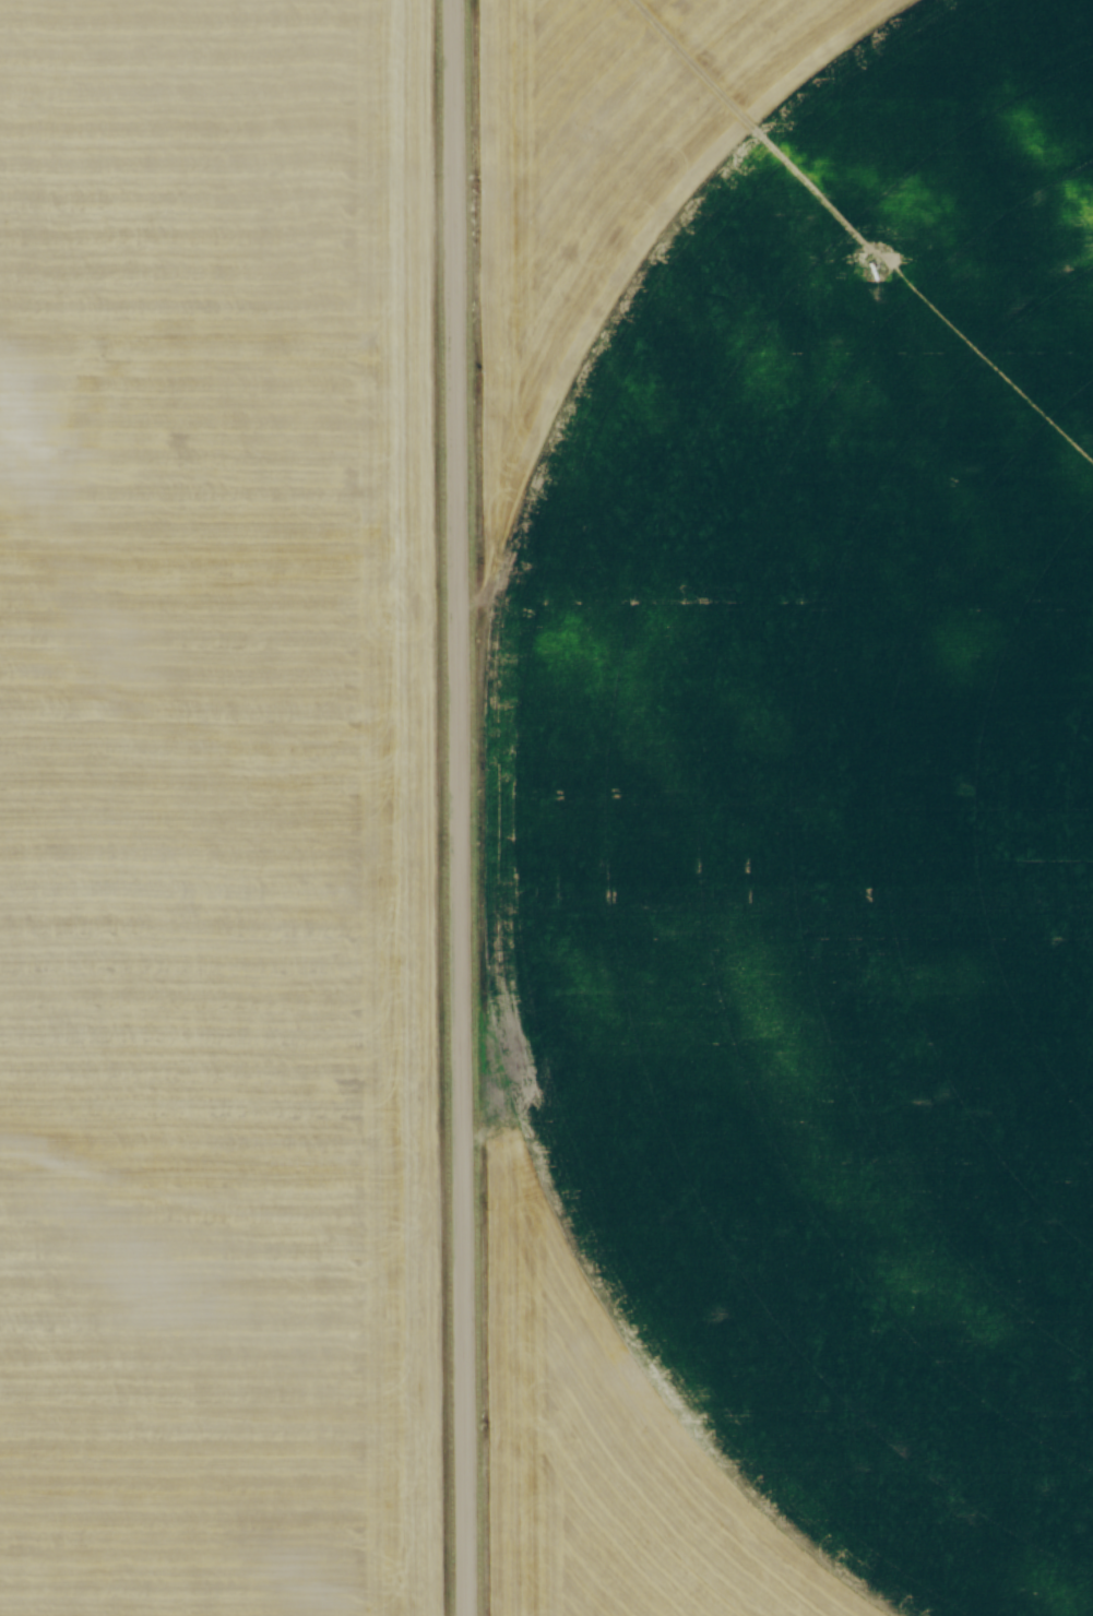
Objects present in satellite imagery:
crop: (785, 805)
road: (454, 808)
crop: (217, 809)

